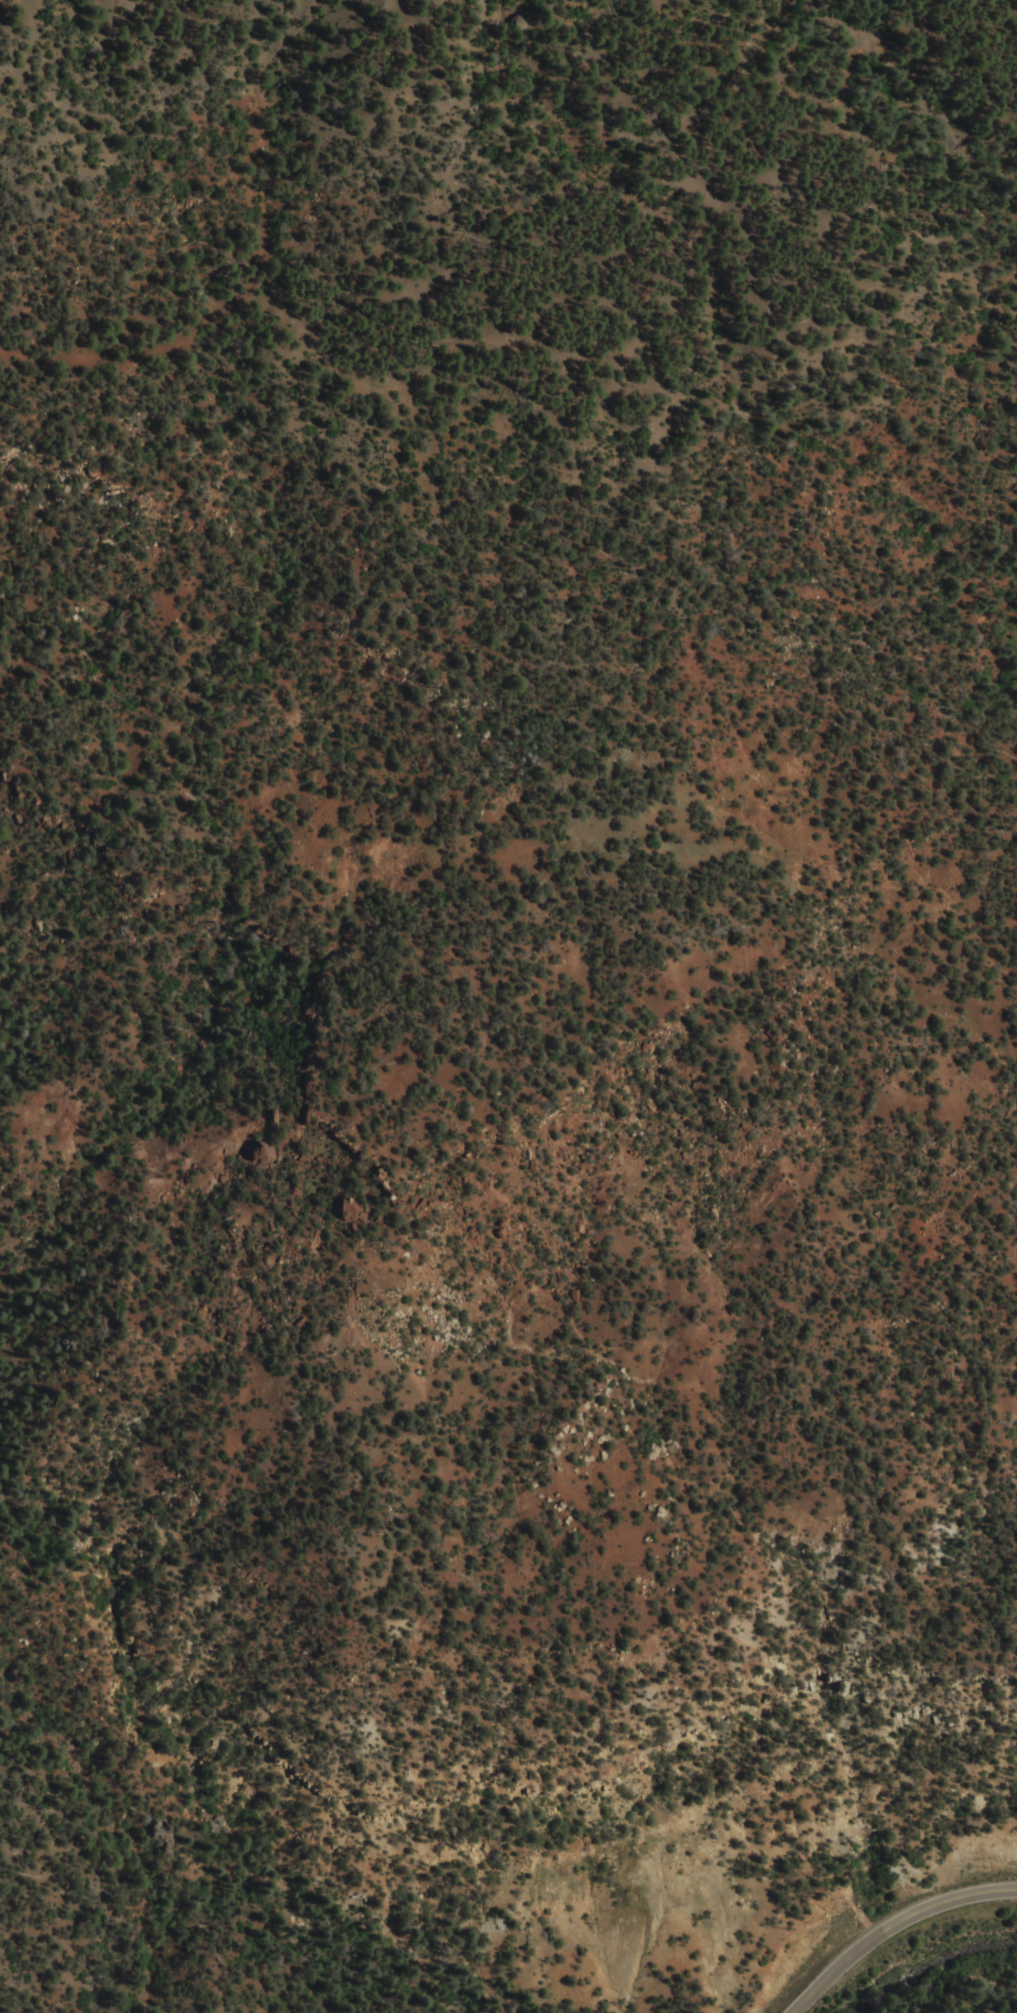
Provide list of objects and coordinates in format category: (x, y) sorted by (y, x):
road: (887, 1922)

